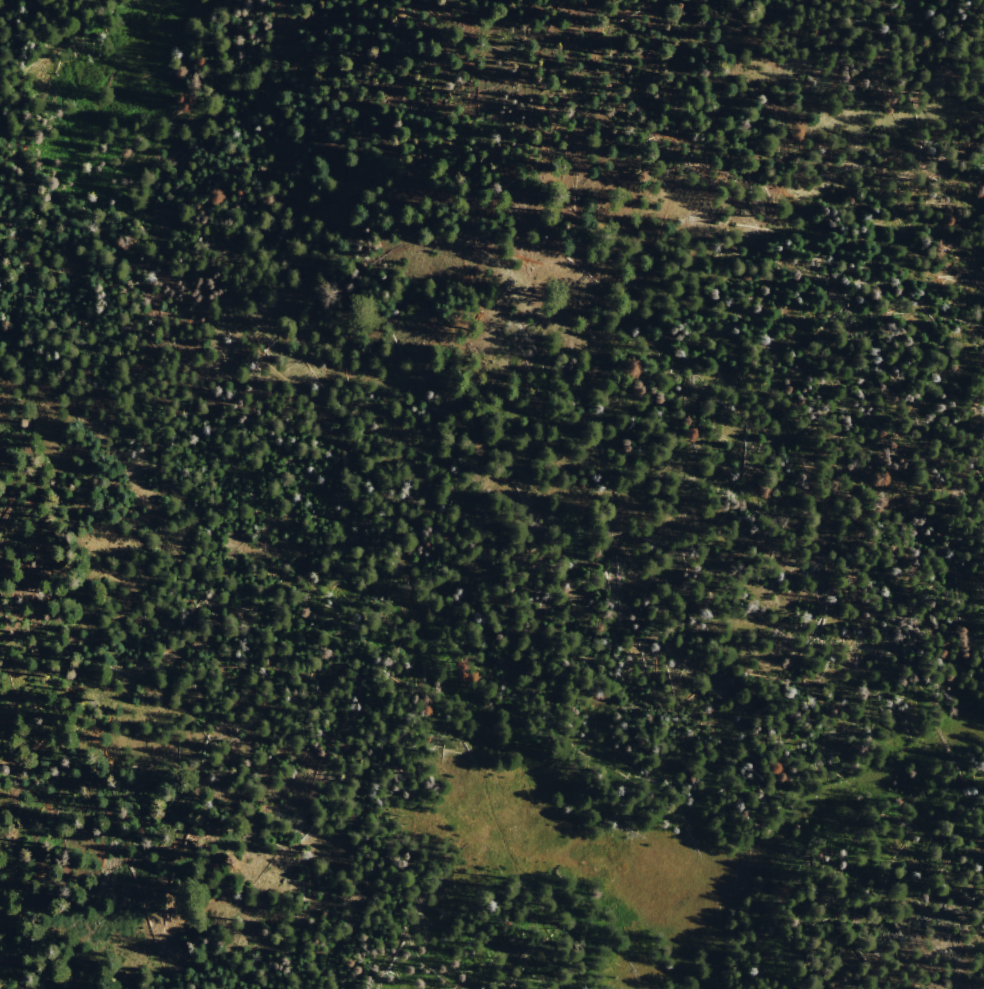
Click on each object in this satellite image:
road: (351, 462)

